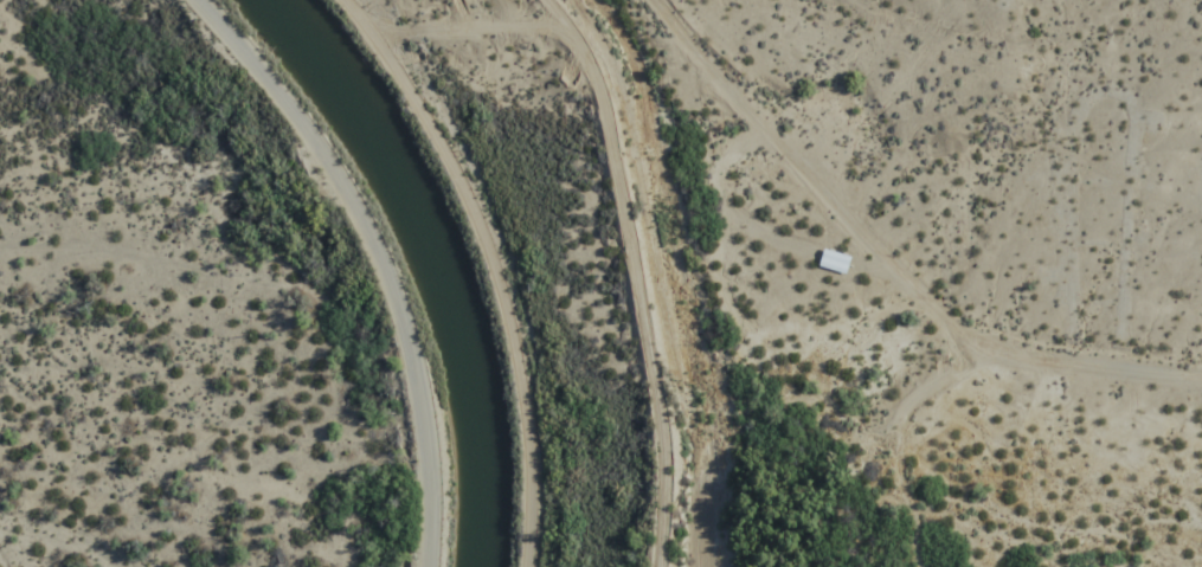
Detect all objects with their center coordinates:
road: (374, 258)
river: (435, 260)
road: (889, 265)

